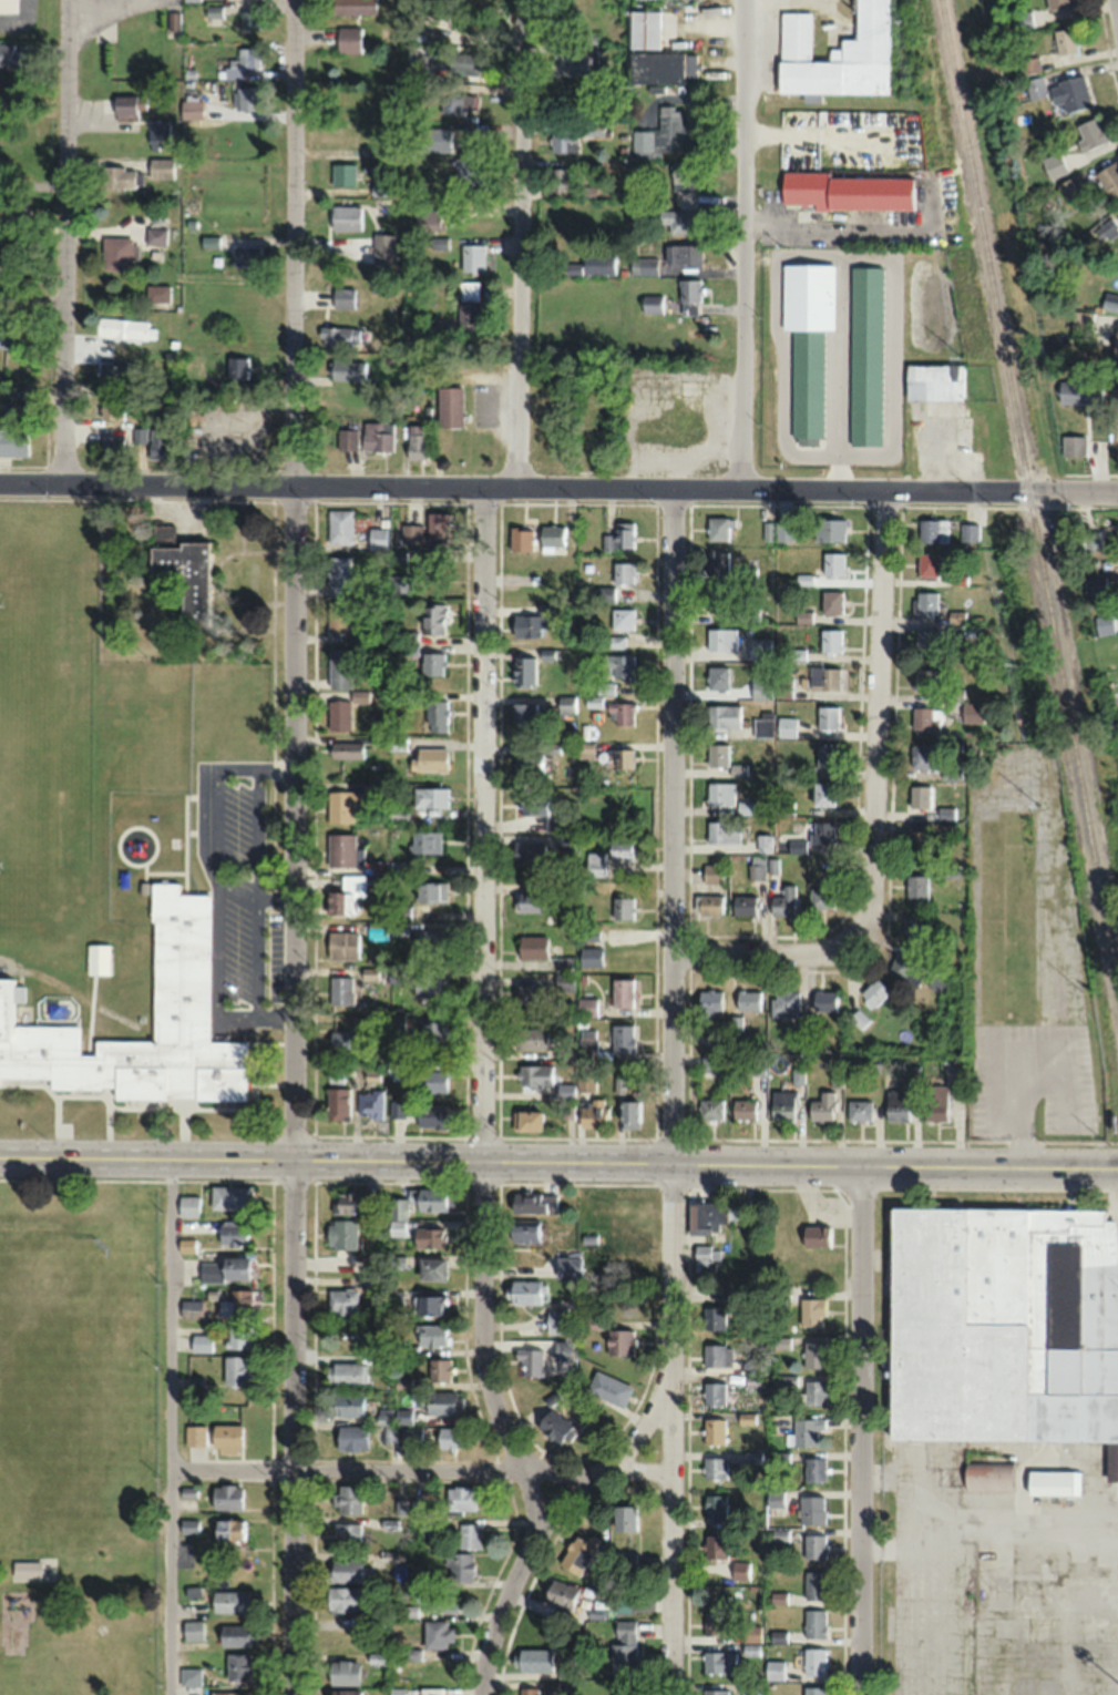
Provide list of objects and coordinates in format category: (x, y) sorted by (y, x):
building: (1057, 3)
building: (7, 6)
building: (352, 7)
road: (1116, 9)
building: (213, 14)
building: (173, 20)
building: (249, 20)
power tower: (903, 20)
building: (1022, 20)
building: (643, 29)
building: (348, 39)
building: (1064, 41)
building: (832, 54)
building: (9, 55)
building: (573, 58)
building: (461, 61)
building: (240, 62)
building: (1029, 65)
building: (661, 67)
building: (1059, 93)
building: (245, 98)
building: (460, 102)
building: (126, 108)
building: (191, 109)
building: (669, 127)
building: (433, 130)
building: (1090, 133)
building: (160, 134)
building: (564, 141)
building: (1053, 165)
building: (4, 169)
power tower: (930, 169)
building: (161, 171)
building: (468, 174)
building: (342, 175)
building: (684, 175)
building: (120, 178)
building: (562, 178)
building: (1109, 180)
building: (845, 192)
building: (13, 213)
building: (345, 217)
building: (427, 221)
building: (681, 221)
building: (1106, 231)
building: (156, 235)
road: (66, 241)
building: (439, 243)
road: (519, 243)
road: (741, 243)
building: (383, 248)
building: (117, 254)
building: (245, 255)
building: (681, 256)
building: (472, 257)
building: (593, 265)
building: (643, 265)
building: (807, 297)
building: (343, 298)
building: (686, 298)
building: (1110, 302)
building: (650, 304)
building: (469, 306)
building: (1081, 324)
building: (124, 329)
building: (4, 334)
building: (335, 336)
building: (1116, 341)
power tower: (963, 358)
building: (237, 368)
building: (347, 370)
building: (115, 375)
building: (933, 381)
building: (1114, 391)
building: (1080, 392)
building: (449, 406)
building: (113, 407)
building: (16, 408)
building: (378, 436)
building: (346, 439)
building: (594, 441)
building: (13, 442)
building: (160, 442)
building: (416, 442)
building: (113, 446)
building: (1074, 446)
road: (558, 487)
street lamp: (48, 497)
railway: (1029, 500)
street lamp: (649, 503)
street lamp: (858, 503)
power tower: (988, 504)
street lamp: (308, 506)
street lamp: (495, 507)
building: (340, 525)
building: (437, 525)
building: (719, 528)
building: (828, 529)
building: (778, 530)
building: (933, 530)
building: (968, 532)
building: (411, 533)
building: (552, 535)
building: (619, 535)
building: (377, 539)
building: (521, 539)
road: (273, 559)
building: (717, 561)
building: (832, 562)
building: (927, 563)
building: (622, 572)
building: (185, 574)
building: (339, 575)
road: (293, 578)
building: (400, 583)
building: (1097, 585)
building: (716, 601)
building: (831, 601)
building: (925, 602)
building: (750, 613)
building: (338, 615)
building: (956, 616)
building: (433, 617)
building: (622, 617)
building: (532, 621)
building: (720, 639)
building: (830, 640)
building: (615, 641)
building: (925, 641)
building: (758, 649)
building: (432, 663)
building: (618, 664)
building: (339, 667)
building: (523, 670)
building: (717, 677)
building: (824, 678)
building: (923, 678)
building: (771, 687)
building: (563, 704)
road: (876, 708)
building: (972, 711)
building: (523, 712)
building: (619, 712)
building: (339, 714)
building: (435, 715)
building: (827, 715)
building: (722, 716)
building: (925, 716)
building: (762, 726)
building: (786, 726)
building: (551, 747)
building: (346, 749)
building: (584, 749)
building: (717, 754)
building: (825, 754)
building: (920, 755)
building: (624, 757)
building: (428, 758)
building: (525, 762)
building: (951, 768)
road: (275, 769)
building: (738, 769)
building: (719, 793)
building: (823, 793)
building: (919, 795)
building: (430, 796)
building: (346, 805)
power tower: (1038, 805)
building: (746, 807)
building: (540, 814)
building: (722, 830)
building: (821, 830)
building: (424, 840)
building: (765, 843)
building: (917, 844)
building: (799, 846)
building: (341, 848)
building: (619, 848)
building: (527, 851)
building: (594, 864)
building: (772, 865)
building: (756, 867)
building: (711, 872)
road: (224, 881)
building: (430, 890)
building: (916, 890)
building: (346, 892)
building: (821, 895)
road: (275, 898)
building: (529, 900)
building: (783, 901)
parking lot: (238, 902)
building: (709, 903)
building: (742, 905)
building: (622, 907)
building: (387, 928)
building: (914, 928)
building: (588, 933)
building: (430, 940)
building: (342, 943)
building: (1004, 943)
building: (531, 947)
building: (589, 956)
road: (771, 956)
building: (563, 963)
building: (905, 969)
building: (938, 976)
building: (564, 982)
building: (425, 984)
building: (341, 989)
building: (620, 991)
building: (873, 991)
building: (529, 994)
power tower: (1086, 994)
building: (824, 999)
building: (709, 1000)
building: (748, 1000)
building: (180, 1002)
building: (784, 1002)
building: (586, 1007)
road: (229, 1014)
road: (276, 1018)
road: (481, 1018)
building: (718, 1028)
building: (432, 1030)
building: (343, 1038)
building: (530, 1038)
building: (623, 1038)
building: (587, 1042)
building: (709, 1062)
building: (756, 1066)
building: (335, 1073)
building: (534, 1074)
building: (430, 1080)
building: (586, 1082)
road: (671, 1091)
building: (566, 1100)
building: (934, 1102)
building: (337, 1103)
building: (781, 1104)
building: (896, 1105)
building: (372, 1106)
building: (822, 1106)
building: (709, 1109)
building: (743, 1109)
building: (858, 1110)
building: (592, 1112)
building: (628, 1112)
building: (430, 1115)
building: (526, 1120)
power tower: (1112, 1145)
road: (147, 1154)
road: (706, 1161)
building: (229, 1196)
building: (427, 1198)
building: (534, 1202)
building: (353, 1203)
building: (187, 1205)
building: (522, 1231)
building: (233, 1232)
building: (341, 1233)
building: (816, 1235)
building: (429, 1236)
building: (705, 1257)
building: (568, 1265)
building: (224, 1267)
building: (431, 1267)
building: (372, 1279)
building: (522, 1290)
building: (342, 1300)
building: (236, 1304)
building: (429, 1304)
building: (191, 1308)
building: (810, 1310)
building: (556, 1320)
building: (1004, 1325)
building: (431, 1334)
building: (237, 1337)
building: (618, 1341)
building: (202, 1342)
building: (813, 1354)
building: (717, 1355)
building: (530, 1361)
building: (438, 1369)
building: (235, 1371)
building: (346, 1374)
building: (784, 1381)
building: (608, 1388)
building: (812, 1391)
building: (714, 1392)
building: (440, 1402)
building: (346, 1405)
building: (403, 1416)
road: (172, 1425)
road: (293, 1425)
building: (387, 1426)
building: (554, 1426)
building: (806, 1430)
road: (859, 1430)
building: (712, 1431)
building: (195, 1436)
building: (351, 1437)
building: (410, 1438)
building: (450, 1438)
building: (226, 1439)
building: (715, 1468)
road: (422, 1469)
building: (813, 1469)
building: (986, 1477)
building: (1052, 1482)
building: (226, 1495)
building: (460, 1498)
building: (775, 1498)
building: (347, 1499)
building: (715, 1505)
building: (811, 1509)
building: (624, 1518)
road: (545, 1522)
building: (431, 1526)
building: (228, 1531)
building: (347, 1533)
building: (469, 1535)
building: (716, 1545)
building: (814, 1545)
building: (577, 1552)
building: (624, 1561)
building: (459, 1566)
building: (25, 1570)
building: (343, 1570)
building: (740, 1570)
building: (599, 1577)
building: (814, 1584)
building: (560, 1594)
building: (341, 1597)
building: (229, 1601)
building: (440, 1602)
building: (814, 1623)
building: (729, 1627)
building: (193, 1630)
building: (236, 1634)
building: (438, 1634)
building: (623, 1645)
building: (412, 1655)
building: (376, 1657)
building: (532, 1660)
building: (814, 1661)
building: (719, 1662)
building: (239, 1665)
building: (773, 1670)
building: (342, 1672)
building: (191, 1676)
building: (752, 1689)
building: (814, 1689)
building: (397, 1691)

